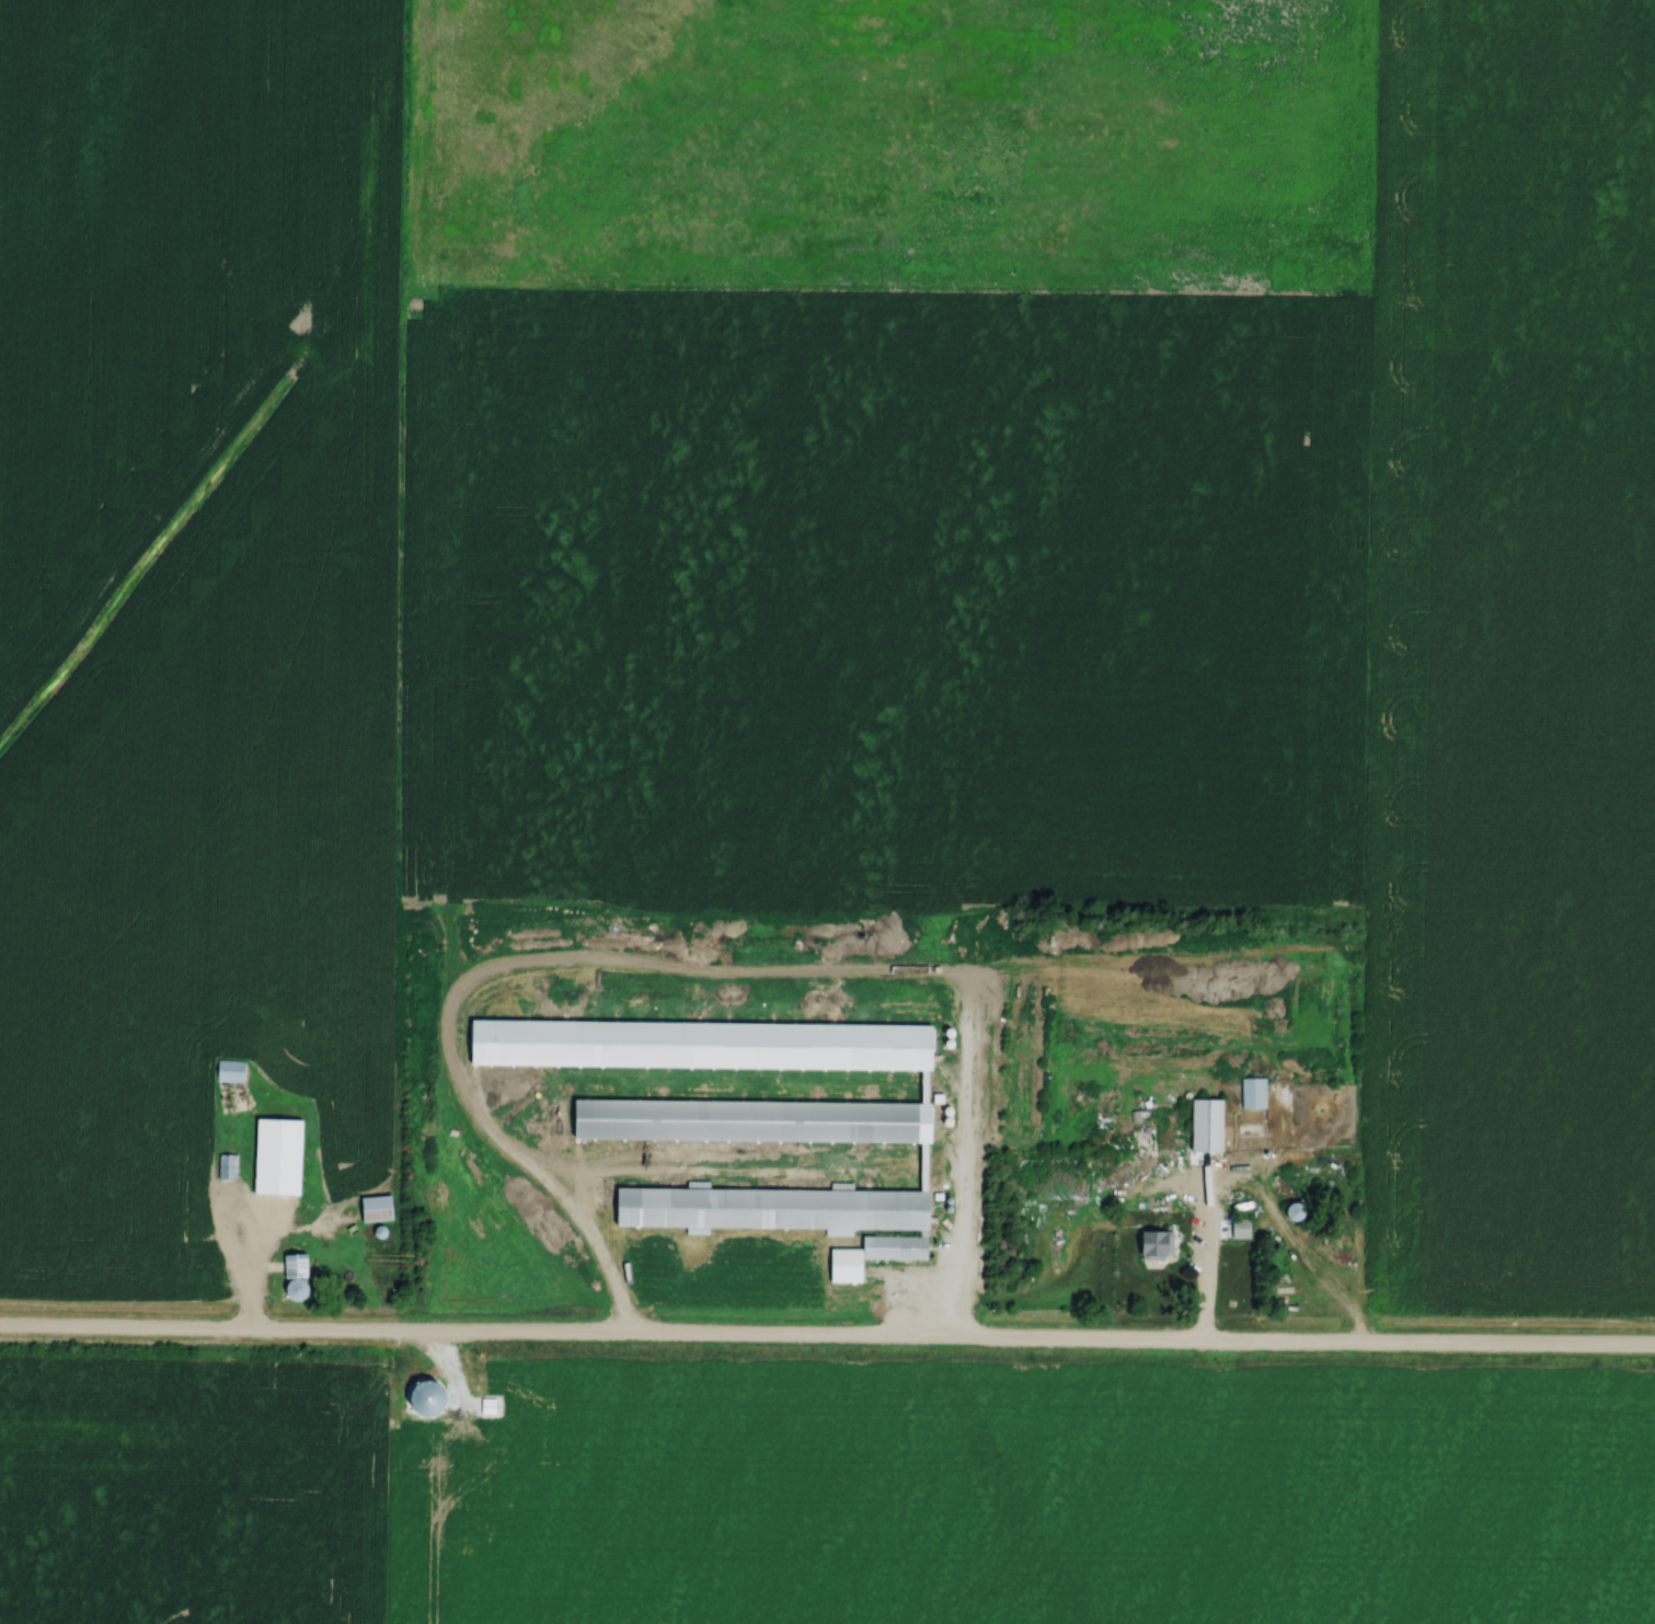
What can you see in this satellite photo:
road: (956, 972)
building: (231, 1071)
building: (1253, 1093)
building: (742, 1112)
building: (1207, 1125)
building: (228, 1167)
road: (962, 1183)
building: (378, 1209)
building: (1295, 1211)
building: (1241, 1229)
road: (252, 1237)
road: (1200, 1240)
building: (1157, 1245)
building: (895, 1247)
building: (296, 1276)
road: (248, 1311)
road: (827, 1339)
building: (426, 1400)

